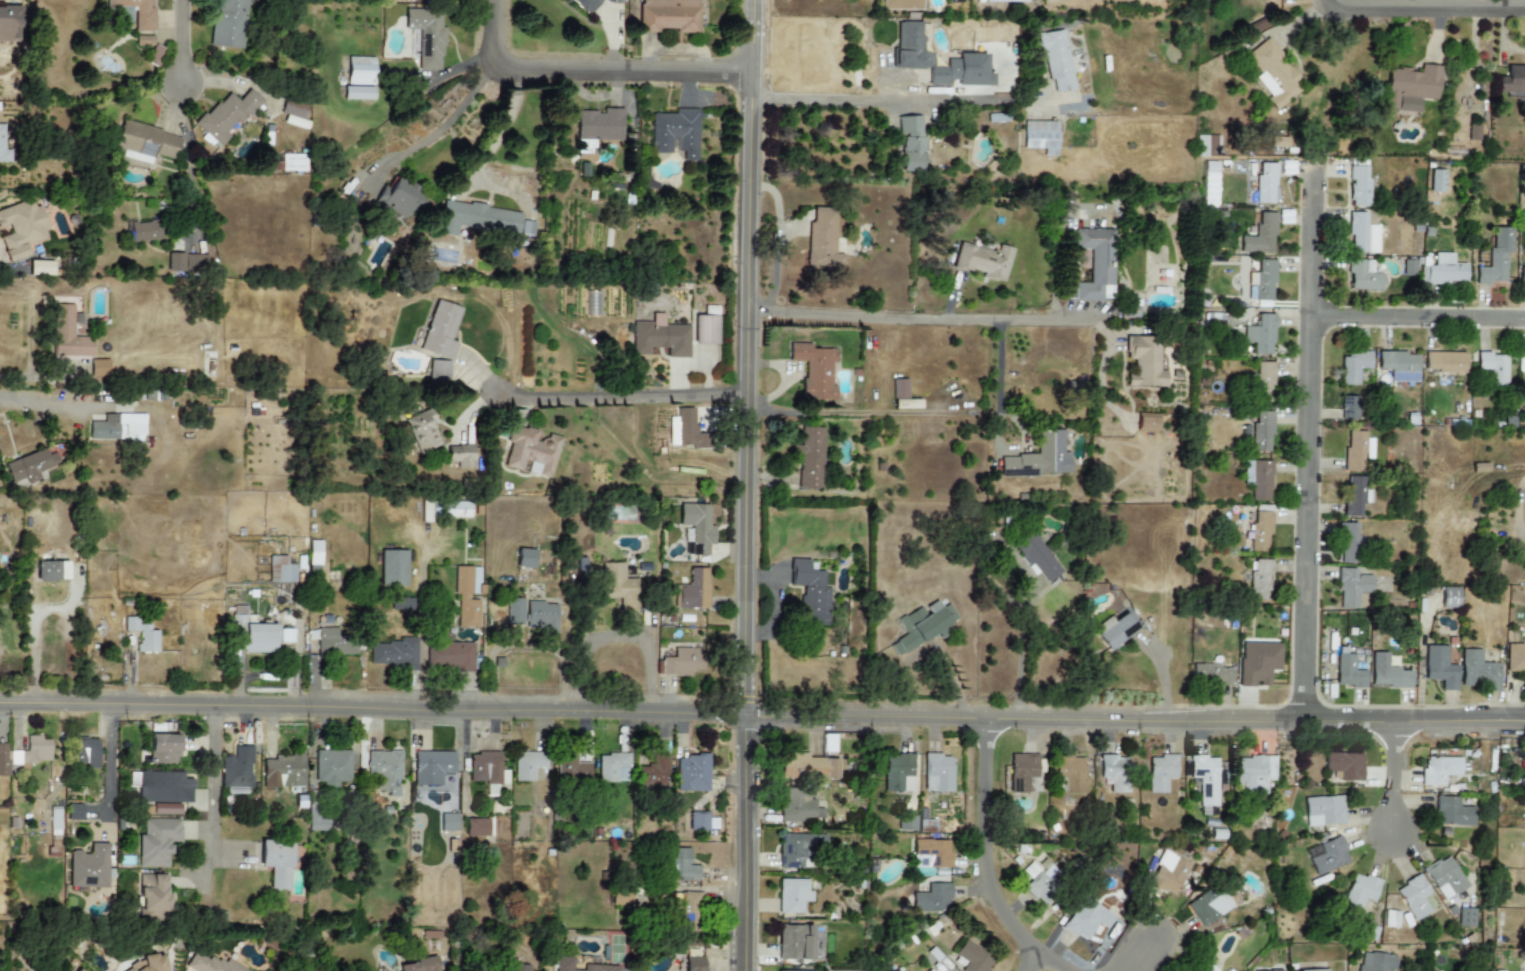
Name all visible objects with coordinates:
building: (1005, 0)
building: (617, 1)
building: (954, 1)
road: (1324, 1)
road: (1424, 3)
building: (901, 5)
building: (582, 6)
building: (136, 14)
building: (11, 19)
building: (671, 19)
building: (232, 25)
building: (426, 37)
building: (144, 41)
road: (181, 41)
building: (155, 56)
building: (911, 56)
building: (1056, 60)
road: (596, 63)
building: (365, 71)
building: (1274, 74)
building: (1512, 82)
building: (1410, 88)
building: (362, 97)
road: (901, 100)
building: (301, 114)
building: (231, 116)
road: (504, 118)
building: (604, 127)
road: (442, 128)
building: (677, 132)
building: (1041, 136)
building: (911, 144)
building: (152, 145)
building: (1207, 145)
building: (3, 148)
building: (294, 165)
building: (1436, 181)
building: (1265, 183)
building: (1358, 184)
building: (399, 197)
building: (482, 222)
building: (146, 227)
building: (527, 228)
building: (22, 234)
building: (1361, 234)
building: (1260, 236)
building: (821, 239)
road: (776, 250)
building: (1495, 257)
building: (983, 261)
building: (186, 263)
building: (1096, 264)
building: (1408, 267)
building: (40, 268)
road: (6, 269)
building: (1443, 270)
building: (1522, 275)
building: (1363, 276)
building: (1263, 281)
road: (1419, 319)
road: (914, 323)
building: (711, 330)
building: (444, 335)
building: (1261, 335)
building: (78, 337)
building: (664, 341)
road: (743, 359)
building: (1145, 362)
building: (1443, 362)
building: (1524, 362)
building: (1398, 366)
building: (1352, 367)
building: (1492, 367)
building: (99, 368)
building: (211, 369)
building: (439, 370)
building: (814, 371)
road: (24, 373)
building: (1263, 382)
building: (901, 395)
road: (620, 396)
road: (35, 398)
building: (1349, 408)
building: (1146, 423)
building: (120, 429)
road: (993, 429)
building: (422, 430)
building: (1260, 432)
building: (696, 434)
road: (1310, 446)
building: (1355, 451)
building: (530, 453)
building: (460, 455)
building: (809, 458)
building: (1040, 458)
building: (31, 466)
building: (1261, 480)
building: (1355, 495)
building: (450, 509)
building: (697, 527)
building: (1260, 531)
building: (1348, 543)
building: (314, 555)
building: (525, 558)
building: (1038, 559)
building: (392, 567)
building: (280, 570)
building: (51, 571)
building: (1260, 579)
building: (618, 586)
building: (1351, 587)
building: (692, 590)
building: (809, 590)
building: (466, 596)
building: (1448, 598)
building: (401, 603)
road: (50, 608)
building: (516, 612)
building: (540, 617)
building: (923, 625)
building: (1117, 628)
building: (251, 633)
building: (143, 635)
building: (334, 642)
building: (393, 652)
building: (449, 655)
road: (1021, 655)
building: (1515, 658)
building: (681, 662)
building: (1258, 663)
building: (1439, 667)
building: (1477, 671)
building: (1348, 672)
building: (1387, 673)
building: (1213, 675)
road: (367, 714)
road: (1130, 725)
building: (163, 748)
building: (24, 754)
building: (86, 754)
building: (527, 764)
building: (384, 766)
building: (431, 766)
building: (1343, 766)
building: (807, 767)
building: (332, 768)
building: (613, 768)
building: (237, 770)
building: (486, 770)
building: (571, 770)
building: (1438, 770)
building: (283, 771)
building: (1022, 771)
building: (1160, 772)
road: (109, 773)
building: (692, 773)
building: (898, 773)
building: (937, 773)
building: (1115, 773)
building: (653, 774)
building: (1255, 774)
building: (1070, 775)
building: (1206, 782)
road: (1392, 784)
building: (163, 787)
road: (209, 803)
building: (797, 806)
building: (166, 808)
building: (1323, 811)
building: (74, 812)
building: (1450, 812)
building: (55, 821)
building: (316, 821)
building: (701, 821)
building: (907, 823)
building: (476, 827)
building: (157, 841)
road: (741, 845)
building: (798, 848)
building: (931, 854)
building: (1326, 856)
building: (276, 862)
road: (989, 863)
building: (685, 866)
building: (89, 867)
building: (1168, 873)
building: (1443, 878)
building: (1040, 884)
building: (1359, 891)
building: (153, 895)
building: (792, 895)
building: (620, 897)
building: (1413, 897)
building: (935, 898)
building: (1209, 906)
building: (687, 914)
building: (1464, 917)
building: (1086, 920)
building: (794, 942)
road: (1146, 956)
building: (973, 958)
road: (1035, 961)
building: (1374, 962)
building: (693, 963)
building: (149, 964)
building: (211, 965)
building: (421, 965)
building: (582, 966)
building: (1208, 969)
building: (76, 970)
building: (789, 970)
building: (928, 970)
building: (1195, 970)
building: (1254, 970)
building: (1315, 970)

